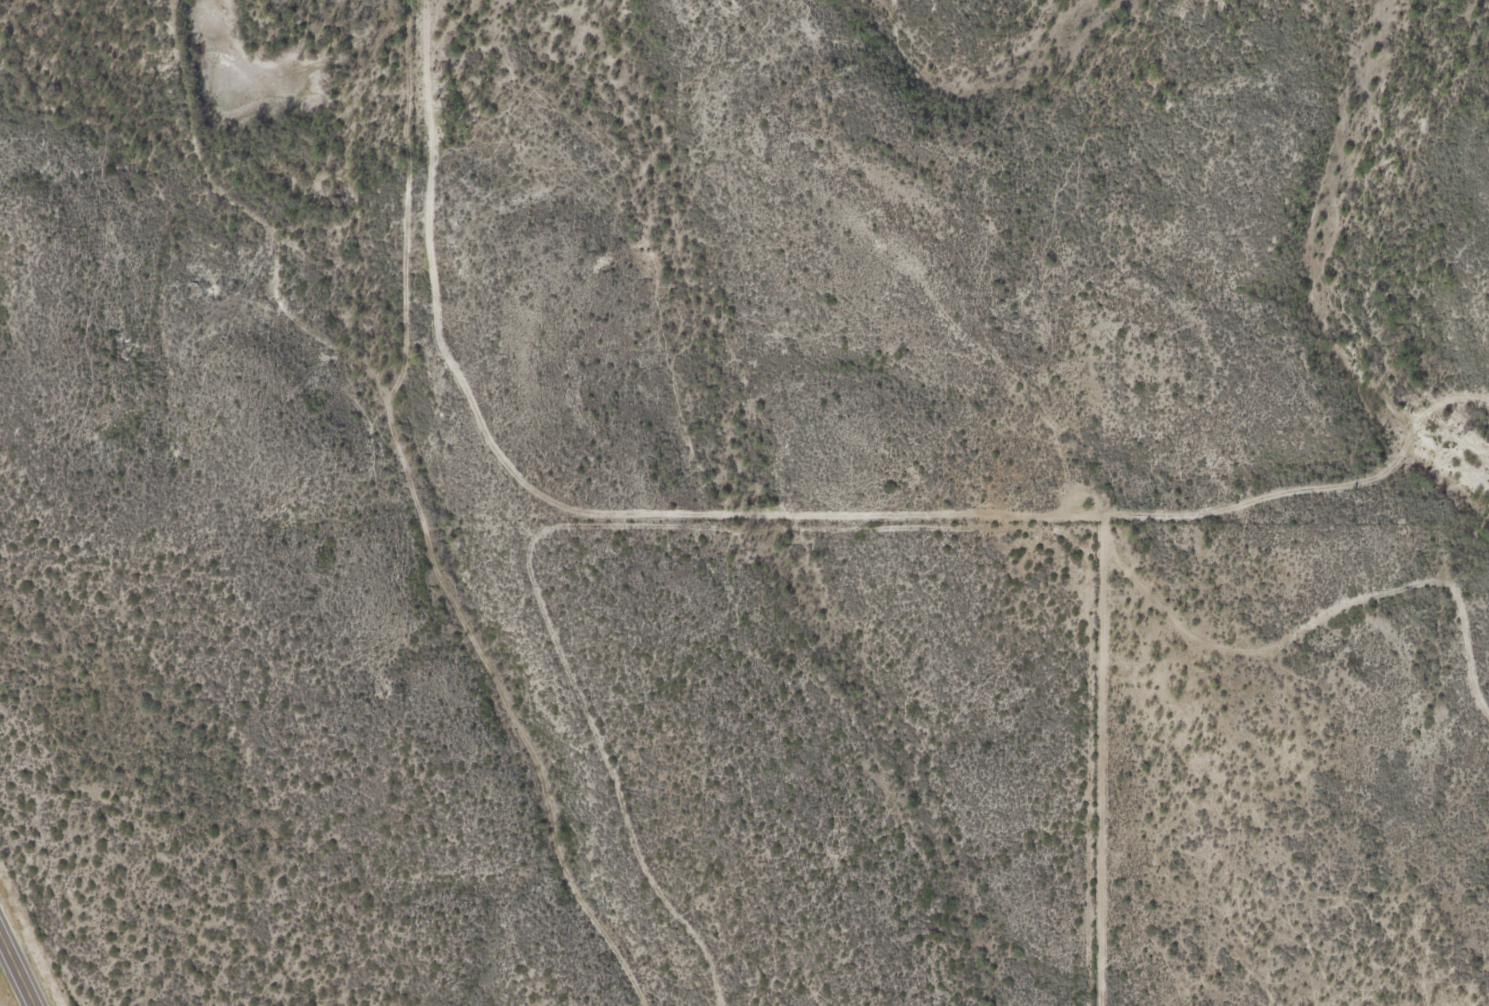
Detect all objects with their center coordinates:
road: (429, 520)
road: (1455, 526)
road: (1394, 694)
road: (1094, 753)
road: (21, 961)

